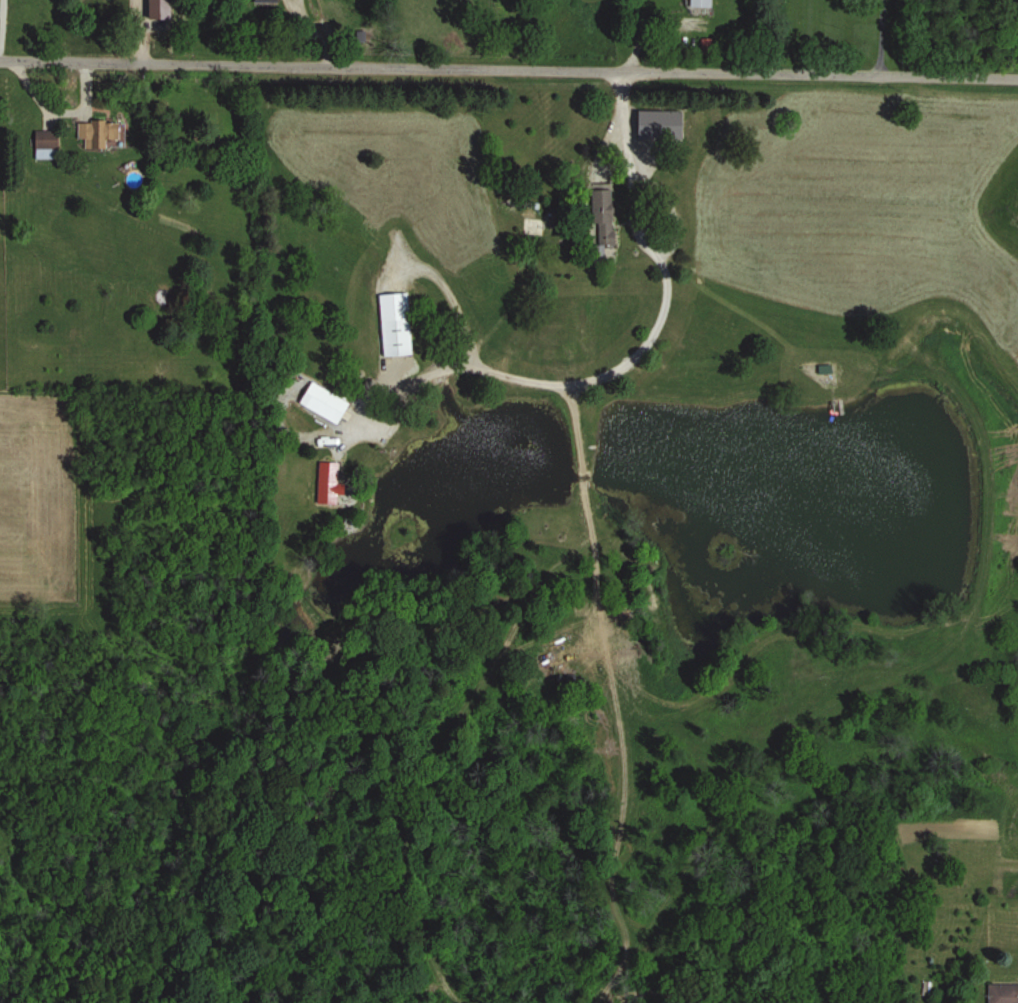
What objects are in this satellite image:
building: (266, 1)
building: (700, 3)
road: (653, 22)
road: (882, 37)
building: (706, 46)
road: (509, 70)
building: (102, 134)
building: (45, 145)
building: (603, 218)
road: (640, 223)
building: (396, 337)
road: (574, 383)
building: (325, 404)
building: (328, 483)
building: (1003, 993)

